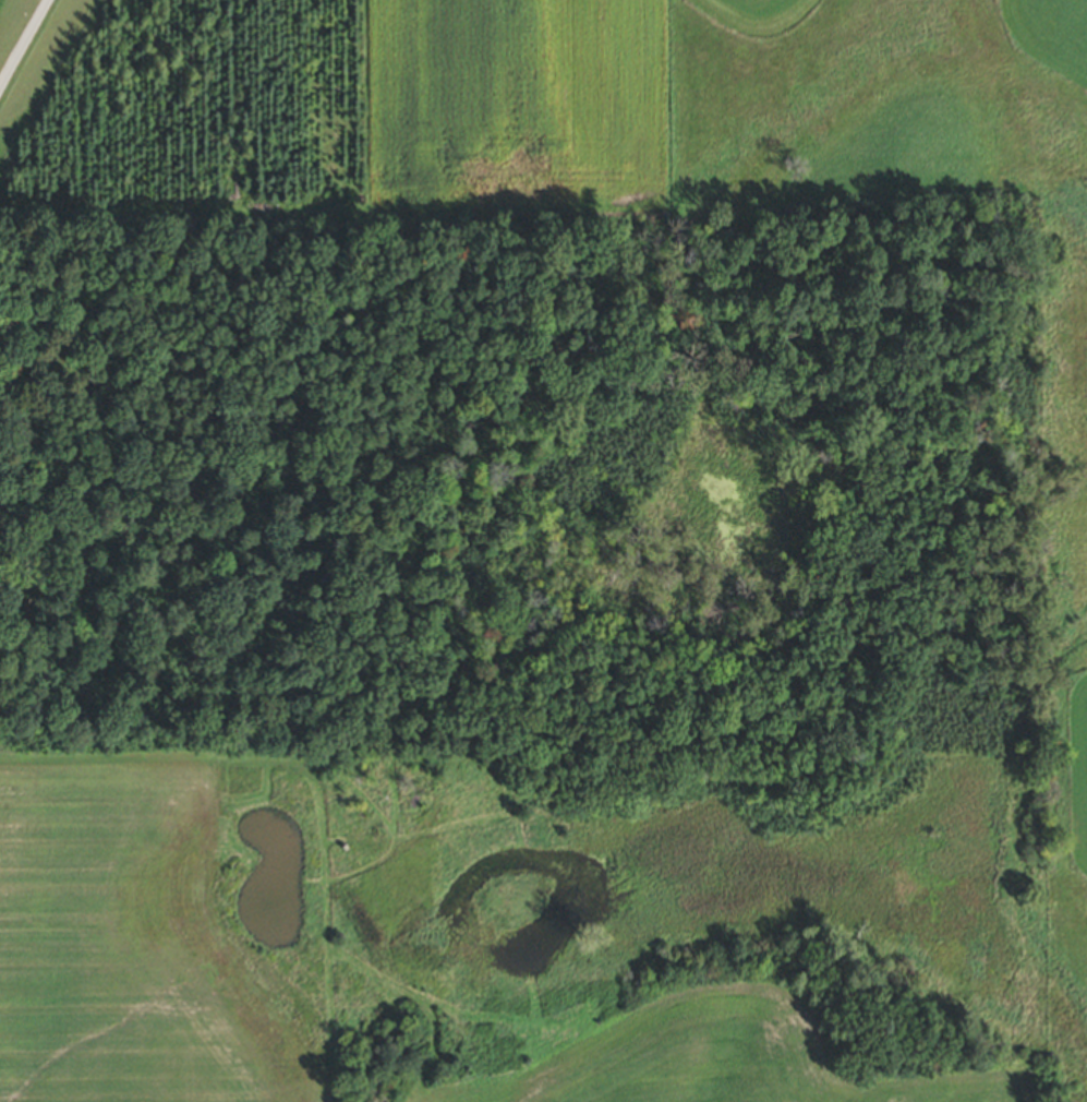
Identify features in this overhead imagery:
road: (22, 38)

